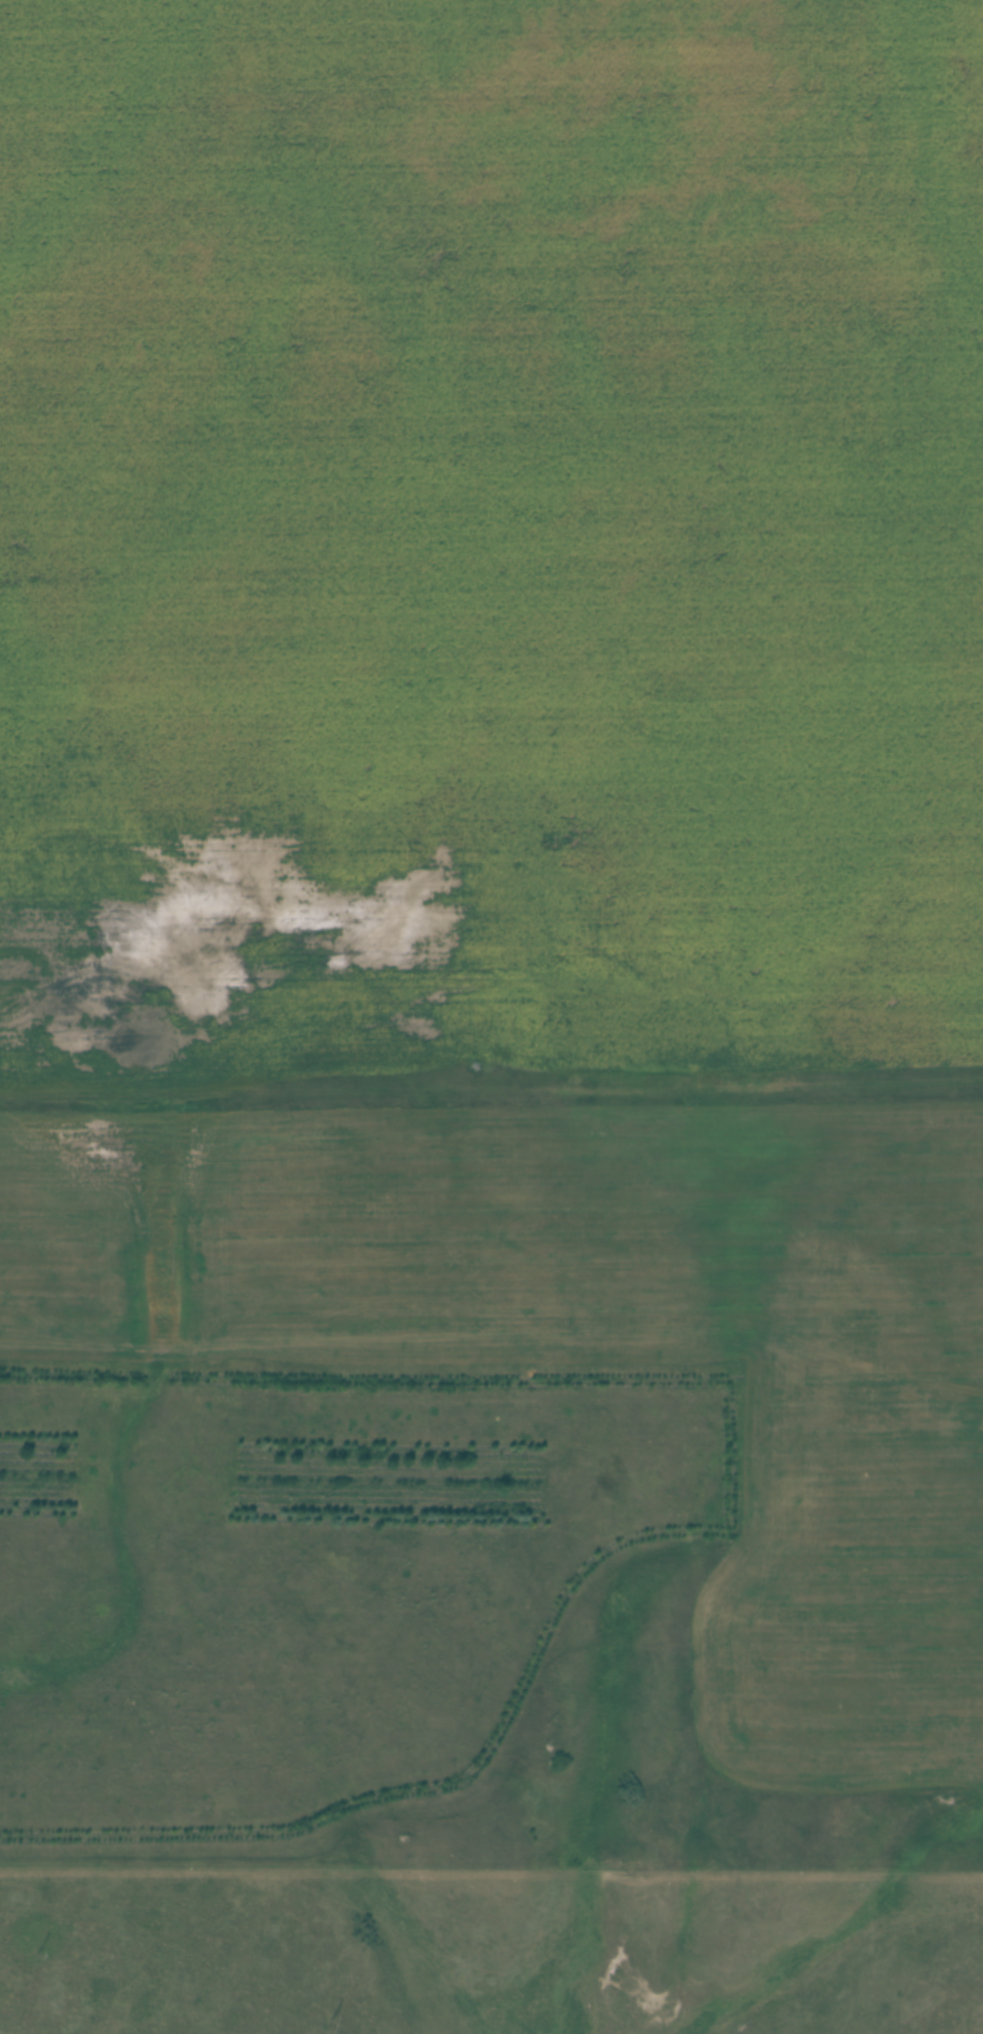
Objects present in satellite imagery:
road: (491, 1093)

